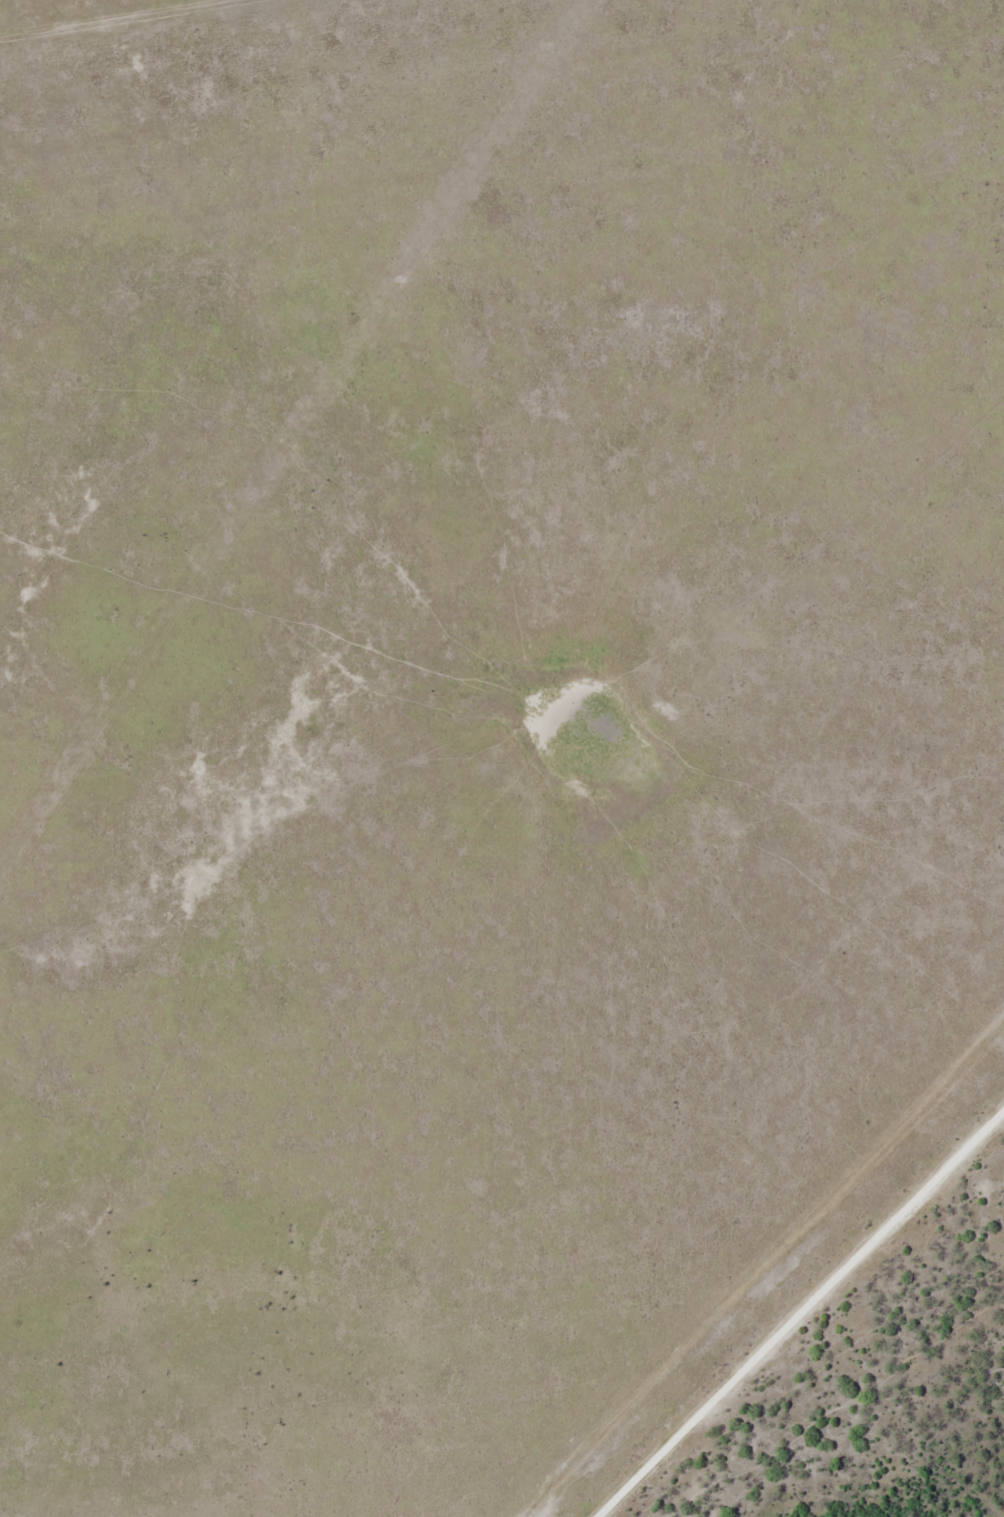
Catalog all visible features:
road: (803, 1310)

